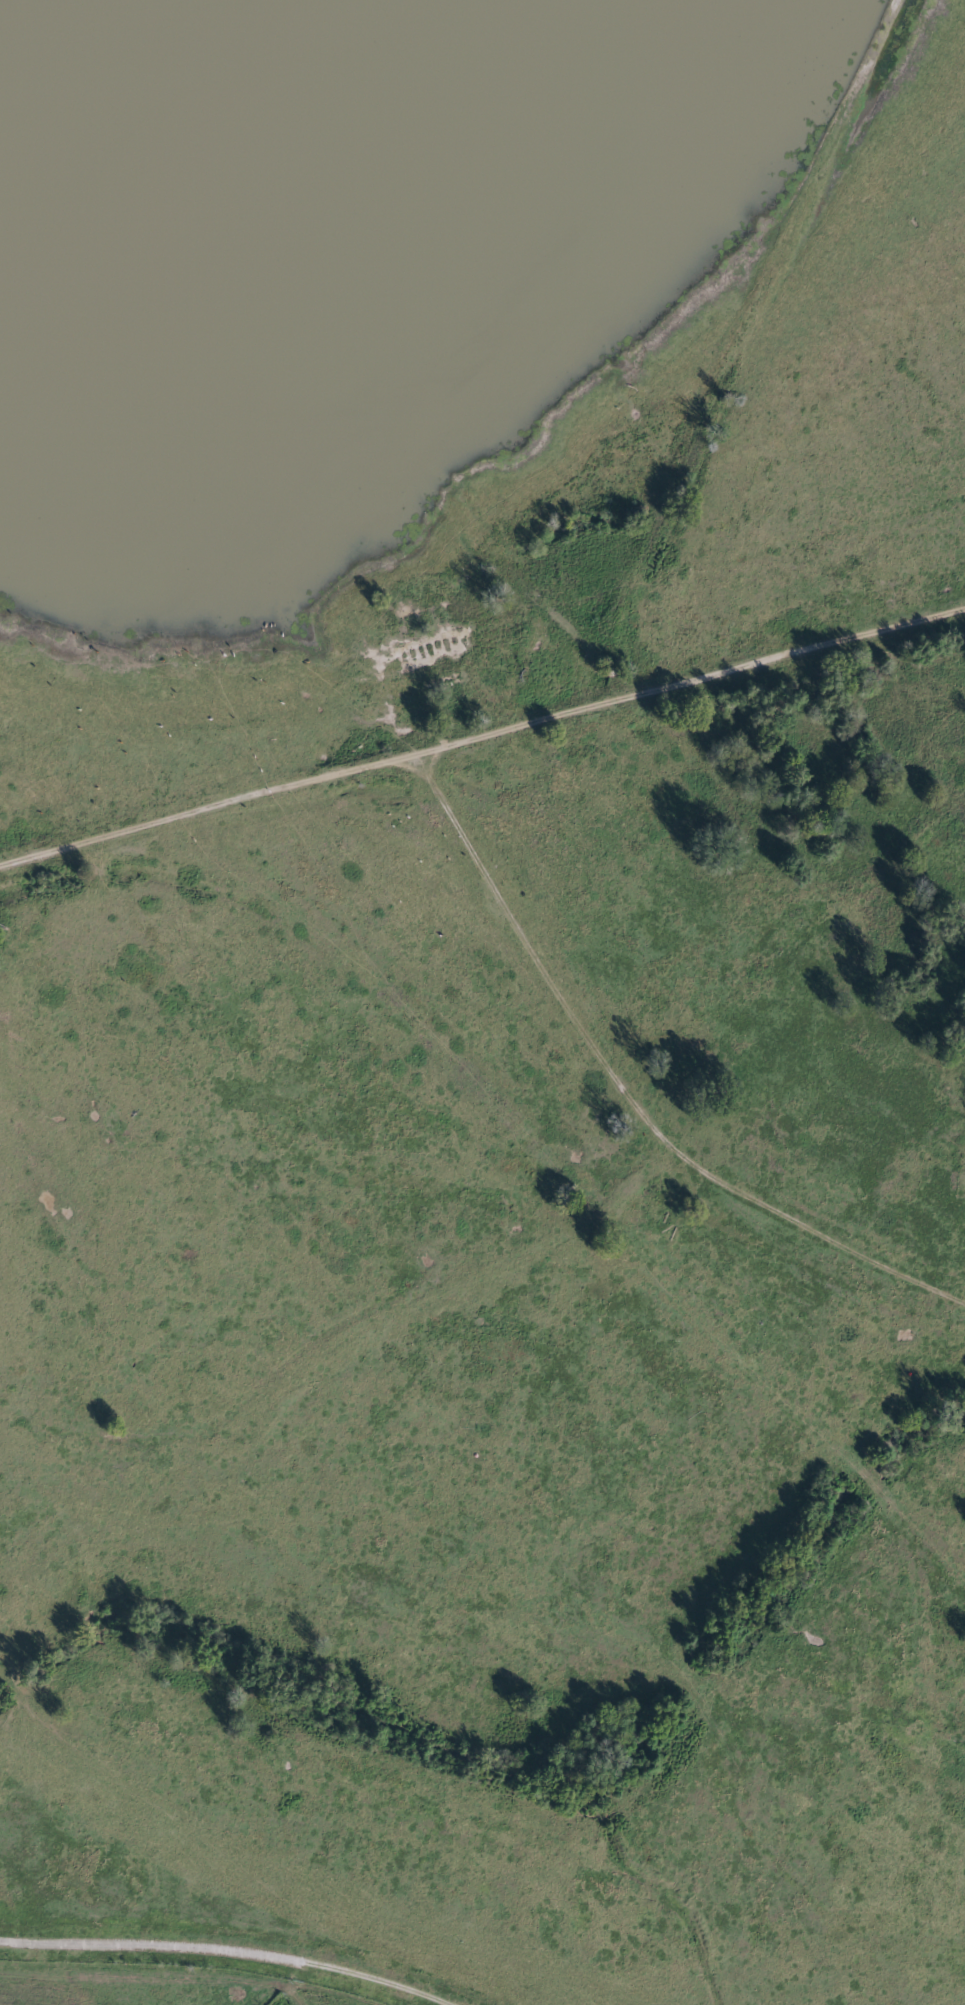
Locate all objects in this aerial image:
road: (679, 679)
road: (196, 809)
road: (195, 1967)

